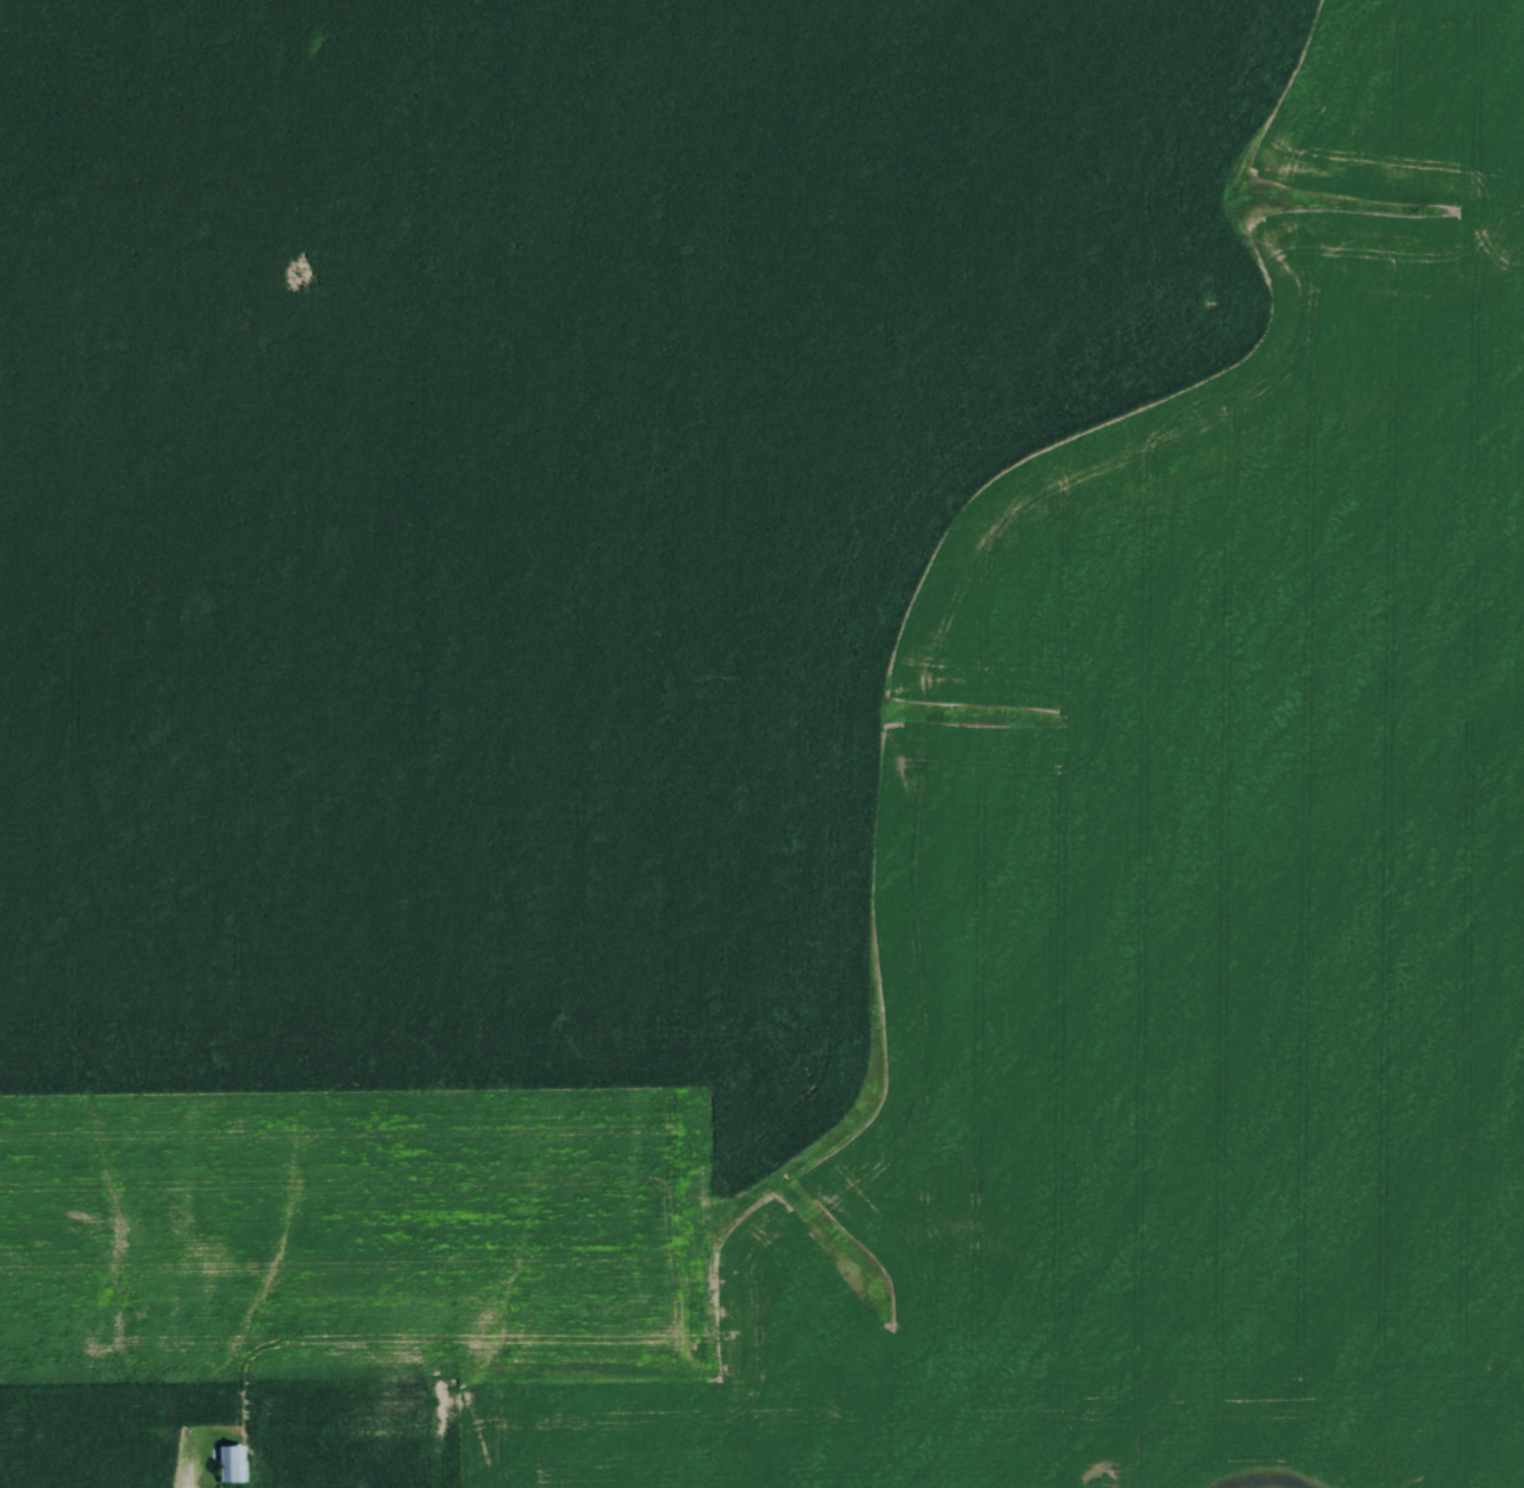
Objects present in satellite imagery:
building: (229, 1463)

